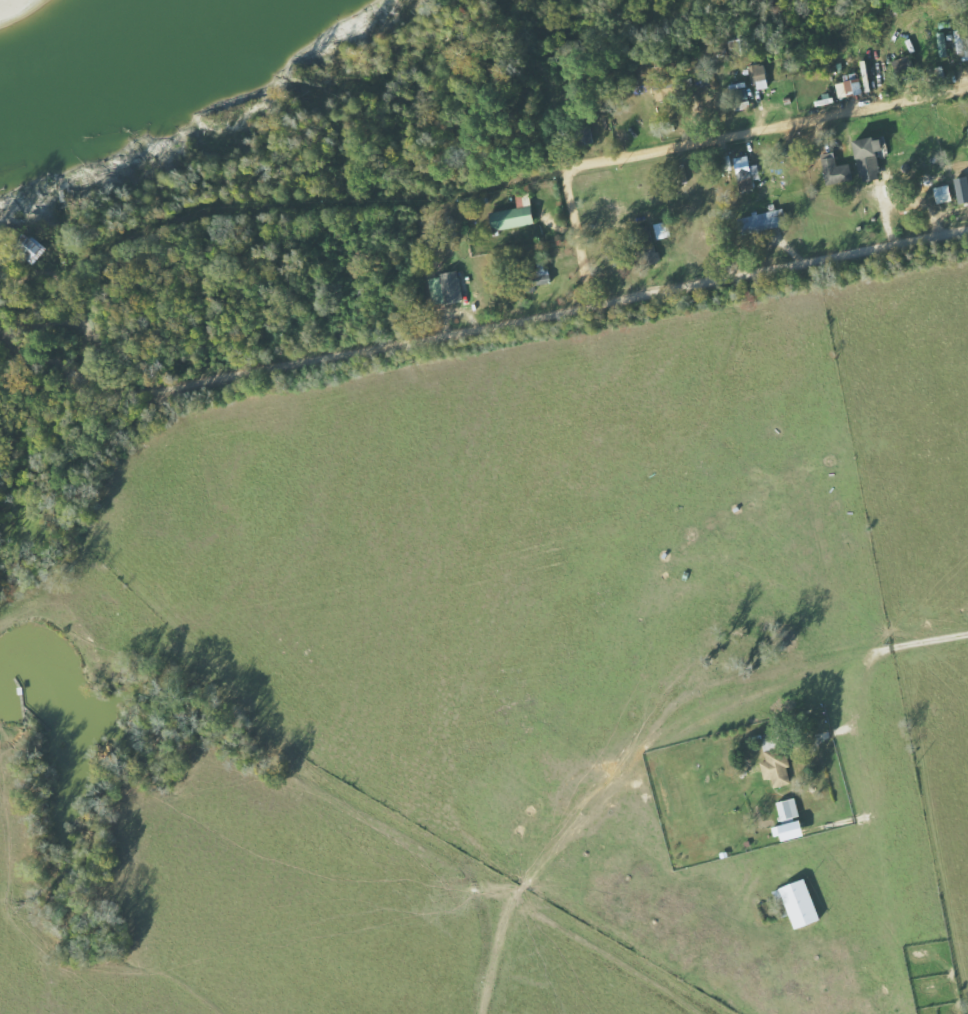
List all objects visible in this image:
river: (60, 23)
building: (943, 45)
building: (759, 76)
building: (851, 86)
road: (777, 121)
road: (568, 145)
building: (870, 158)
building: (837, 170)
building: (747, 173)
building: (944, 194)
building: (515, 215)
building: (763, 222)
building: (662, 230)
building: (31, 248)
road: (41, 280)
building: (446, 288)
road: (494, 306)
road: (24, 325)
road: (814, 631)
building: (775, 761)
building: (790, 820)
road: (549, 838)
building: (801, 903)

